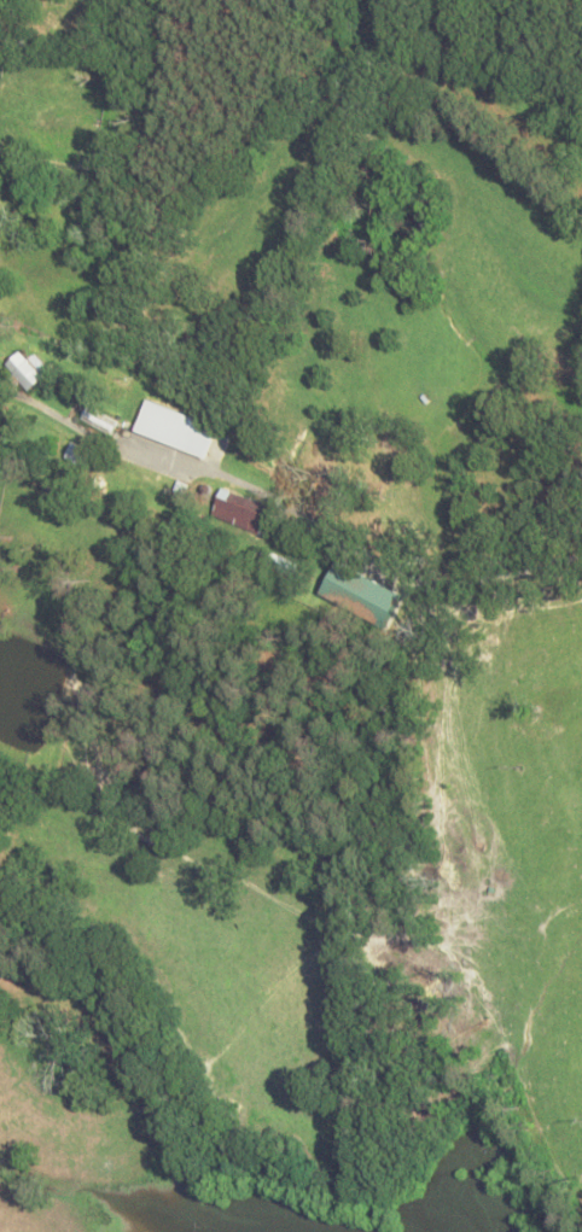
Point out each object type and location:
building: (29, 373)
building: (103, 422)
building: (177, 431)
building: (80, 457)
road: (139, 471)
building: (243, 514)

